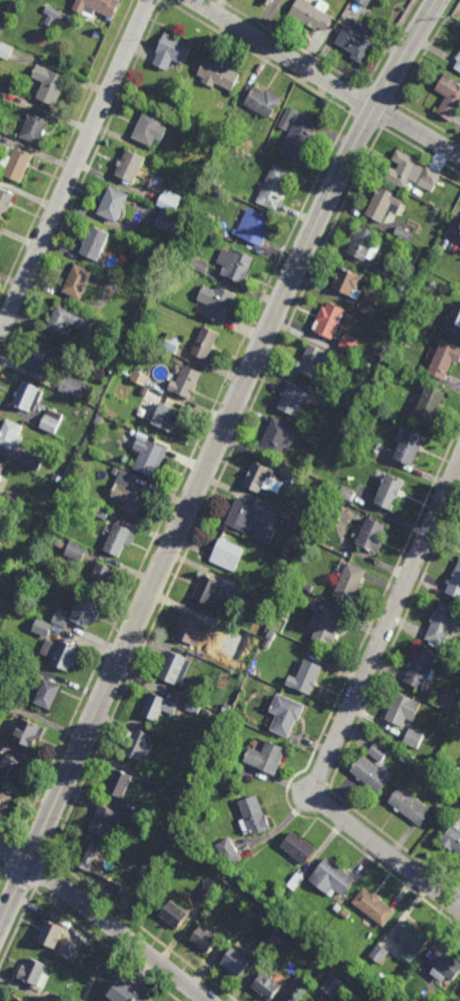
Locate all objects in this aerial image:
building: (268, 0)
road: (162, 1)
road: (164, 1)
building: (280, 1)
building: (364, 2)
road: (436, 3)
road: (165, 5)
building: (95, 6)
building: (54, 11)
building: (310, 15)
building: (354, 41)
road: (290, 44)
road: (389, 44)
building: (5, 50)
building: (170, 51)
road: (427, 51)
road: (258, 57)
building: (456, 64)
building: (215, 75)
road: (328, 78)
building: (48, 85)
building: (8, 94)
road: (379, 95)
building: (448, 99)
road: (355, 100)
building: (261, 102)
building: (170, 108)
road: (388, 115)
building: (287, 118)
road: (365, 119)
road: (428, 122)
building: (32, 127)
building: (147, 130)
building: (296, 136)
building: (269, 147)
road: (67, 149)
road: (420, 151)
building: (12, 162)
road: (75, 167)
building: (127, 167)
building: (201, 169)
building: (409, 174)
building: (216, 183)
road: (81, 185)
building: (273, 188)
building: (135, 190)
building: (169, 201)
building: (4, 204)
building: (110, 205)
building: (381, 205)
building: (167, 221)
building: (207, 223)
building: (252, 227)
building: (459, 231)
building: (402, 232)
building: (459, 233)
building: (91, 245)
building: (361, 245)
building: (197, 263)
building: (234, 265)
building: (385, 272)
building: (74, 282)
building: (344, 284)
building: (214, 304)
building: (366, 304)
building: (66, 321)
building: (457, 321)
building: (325, 323)
building: (172, 342)
building: (348, 343)
building: (203, 344)
building: (85, 347)
building: (99, 352)
building: (381, 358)
building: (39, 360)
building: (443, 360)
building: (313, 361)
building: (376, 369)
building: (139, 376)
building: (183, 382)
building: (73, 386)
building: (150, 393)
building: (26, 398)
building: (292, 398)
building: (427, 407)
building: (99, 418)
building: (161, 419)
building: (51, 420)
building: (7, 435)
building: (274, 437)
building: (405, 450)
building: (145, 457)
building: (33, 461)
road: (209, 462)
building: (0, 466)
building: (287, 470)
road: (182, 475)
building: (253, 480)
road: (213, 491)
building: (346, 492)
building: (387, 495)
building: (126, 499)
building: (12, 500)
building: (100, 512)
building: (287, 515)
building: (241, 517)
building: (1, 535)
building: (370, 537)
building: (116, 541)
building: (76, 551)
building: (224, 557)
building: (100, 578)
building: (454, 584)
building: (348, 585)
building: (309, 586)
building: (246, 591)
building: (205, 592)
building: (284, 608)
building: (82, 614)
building: (61, 617)
road: (391, 617)
building: (41, 627)
building: (443, 627)
building: (320, 629)
building: (188, 631)
building: (270, 635)
building: (59, 656)
building: (24, 663)
building: (170, 668)
building: (418, 669)
building: (303, 680)
building: (45, 695)
building: (2, 700)
building: (192, 706)
building: (225, 708)
building: (155, 709)
building: (400, 711)
building: (283, 715)
road: (331, 715)
road: (361, 716)
building: (233, 729)
building: (24, 733)
building: (413, 738)
building: (137, 745)
building: (403, 758)
building: (264, 759)
building: (371, 768)
building: (10, 769)
road: (312, 778)
building: (157, 784)
road: (327, 785)
building: (116, 786)
road: (329, 793)
building: (3, 803)
road: (319, 806)
building: (408, 808)
building: (438, 808)
building: (250, 818)
building: (103, 822)
road: (9, 835)
building: (451, 839)
road: (378, 843)
road: (33, 848)
building: (296, 849)
building: (227, 851)
road: (12, 855)
building: (82, 860)
building: (135, 868)
building: (142, 870)
road: (2, 871)
road: (41, 872)
road: (3, 877)
building: (331, 878)
road: (19, 880)
building: (295, 881)
road: (458, 885)
road: (458, 889)
building: (210, 890)
road: (447, 899)
building: (337, 908)
building: (371, 908)
building: (168, 914)
building: (345, 914)
road: (106, 921)
road: (17, 927)
road: (142, 928)
building: (48, 935)
building: (240, 935)
building: (202, 940)
building: (413, 941)
road: (106, 945)
building: (67, 950)
building: (378, 954)
building: (262, 957)
building: (233, 963)
building: (443, 964)
building: (353, 967)
building: (31, 975)
building: (416, 975)
building: (297, 978)
building: (331, 985)
building: (263, 986)
building: (120, 993)
building: (58, 998)
building: (12, 999)
building: (291, 999)
building: (428, 1000)

